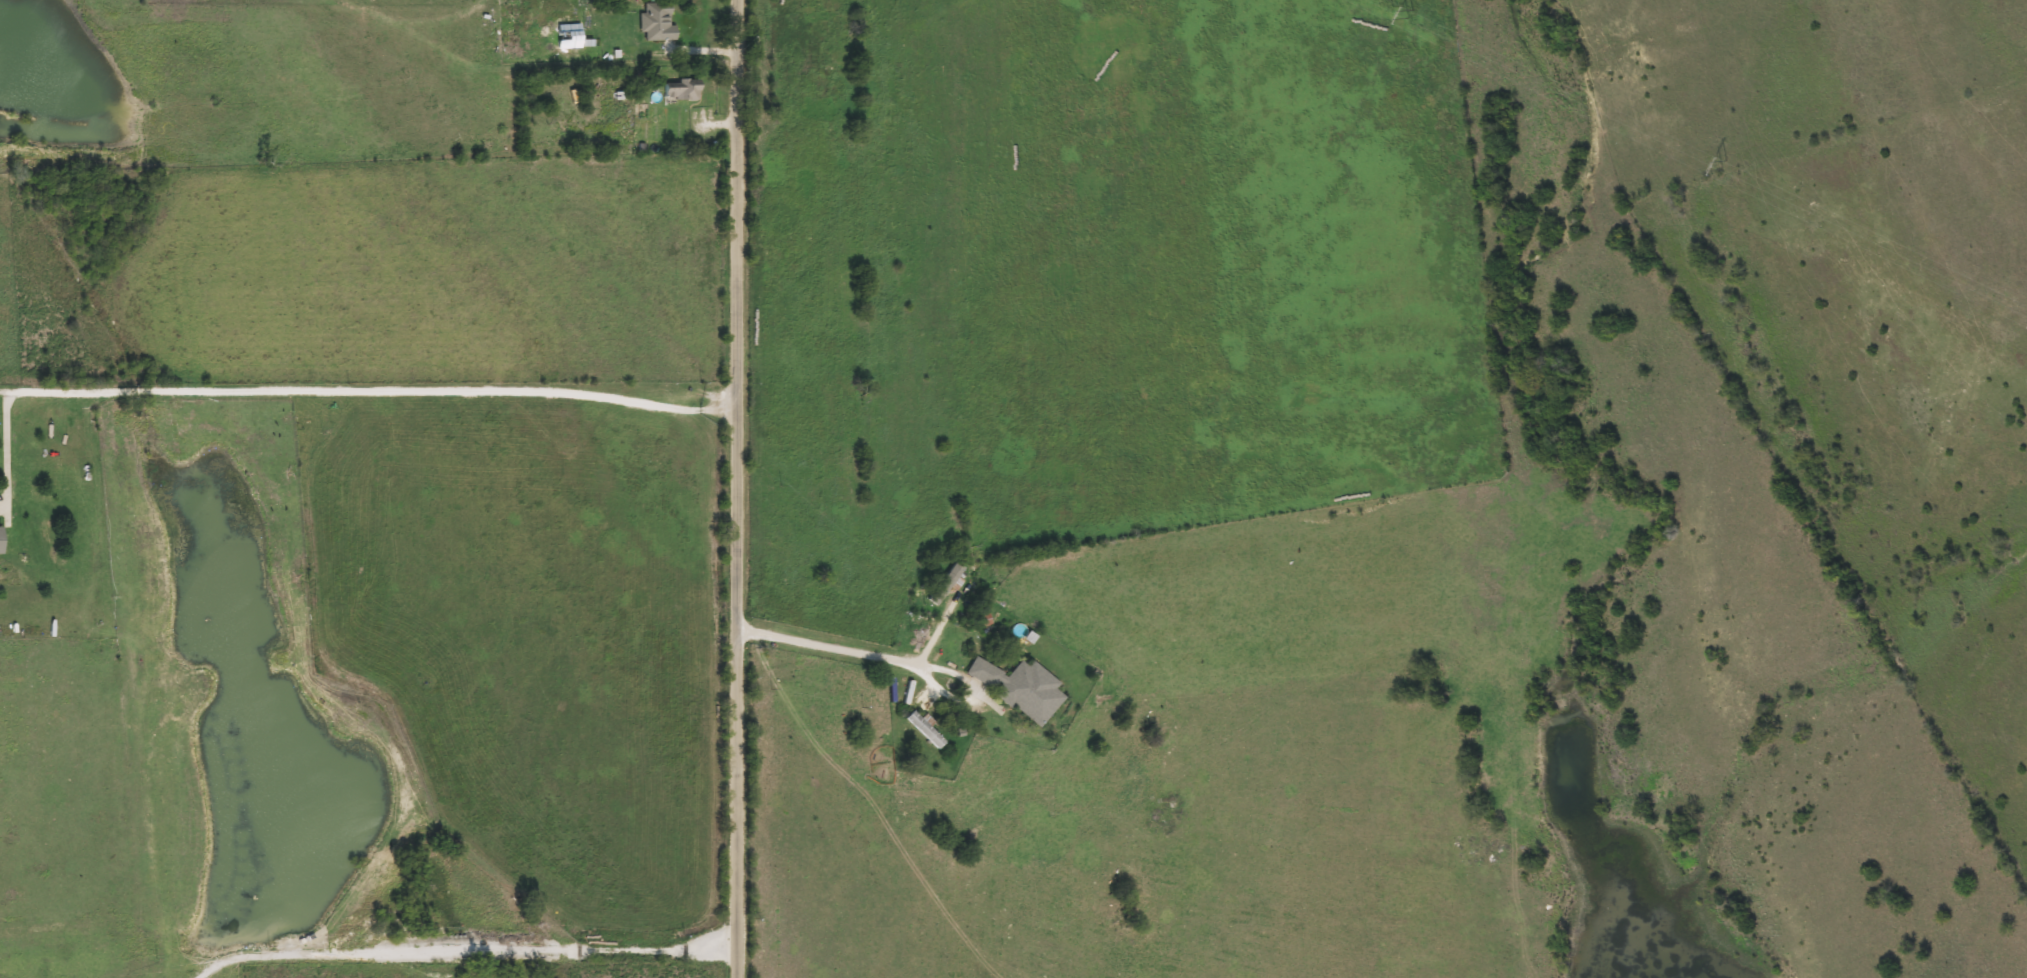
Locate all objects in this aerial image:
building: (655, 22)
building: (566, 36)
building: (679, 90)
road: (321, 390)
road: (743, 489)
building: (979, 619)
road: (831, 645)
building: (1019, 689)
building: (923, 730)
road: (465, 952)

